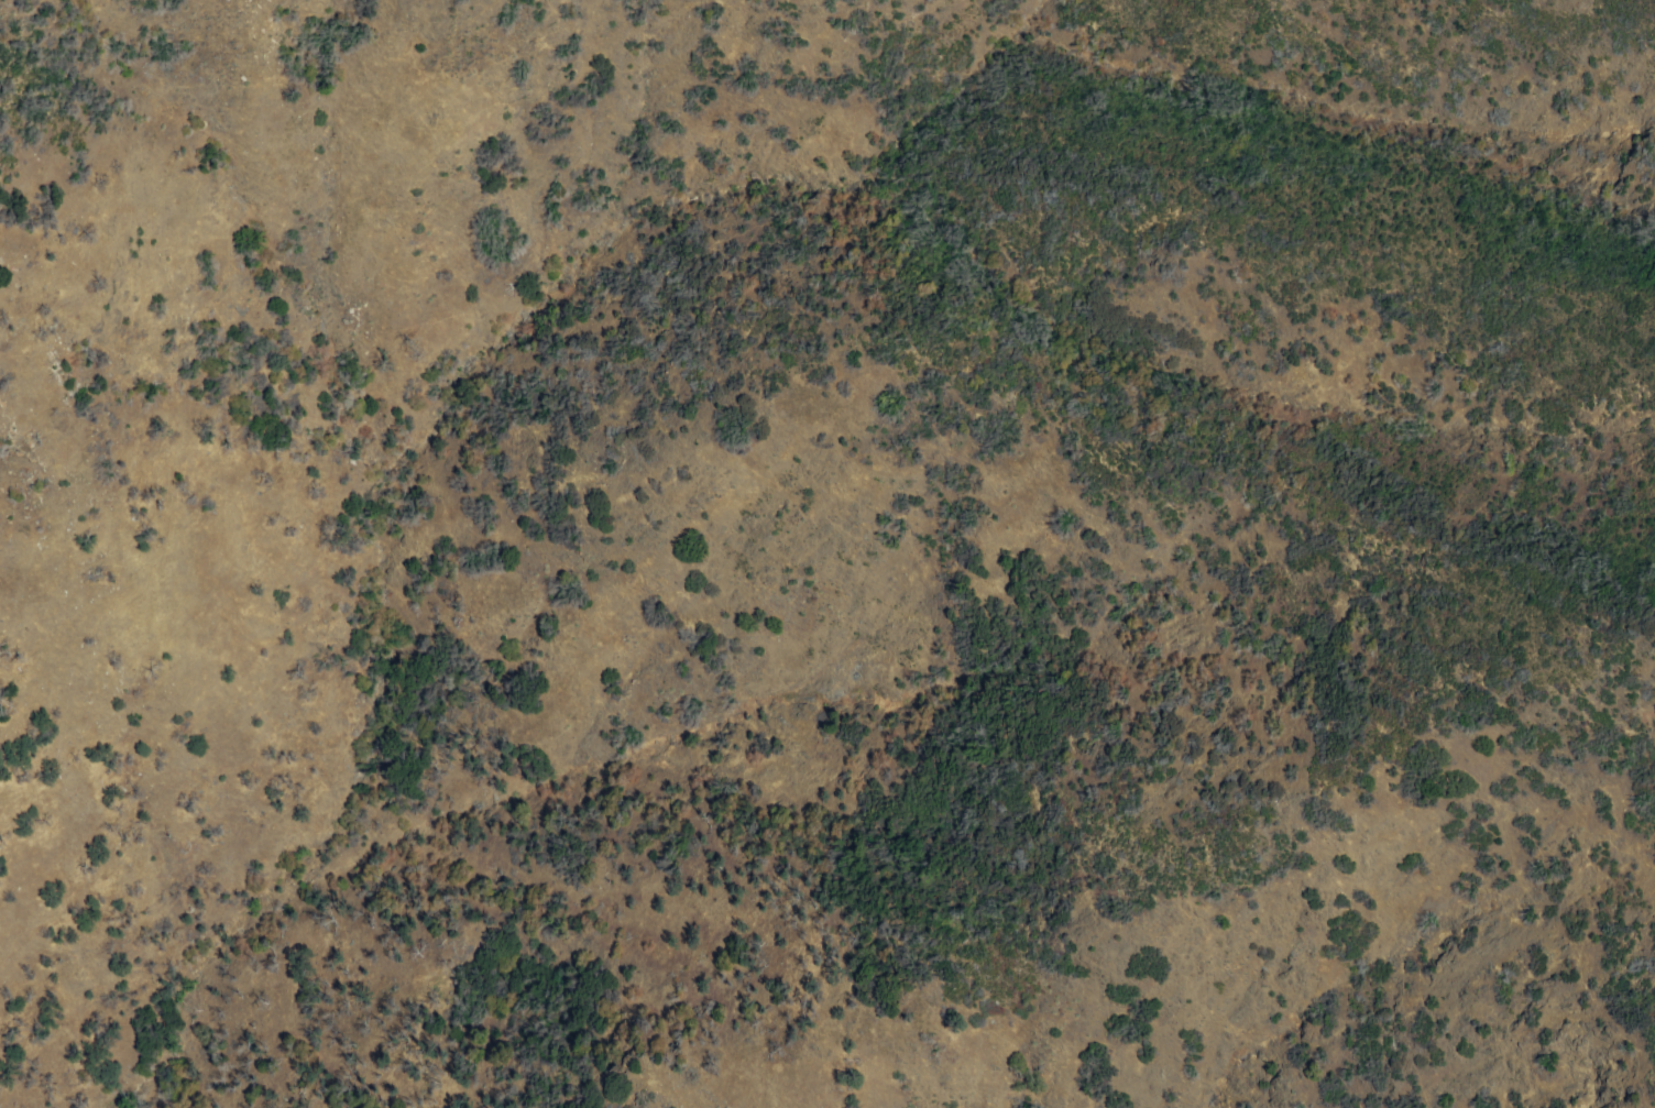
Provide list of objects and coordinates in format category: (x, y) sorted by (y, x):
road: (359, 726)

